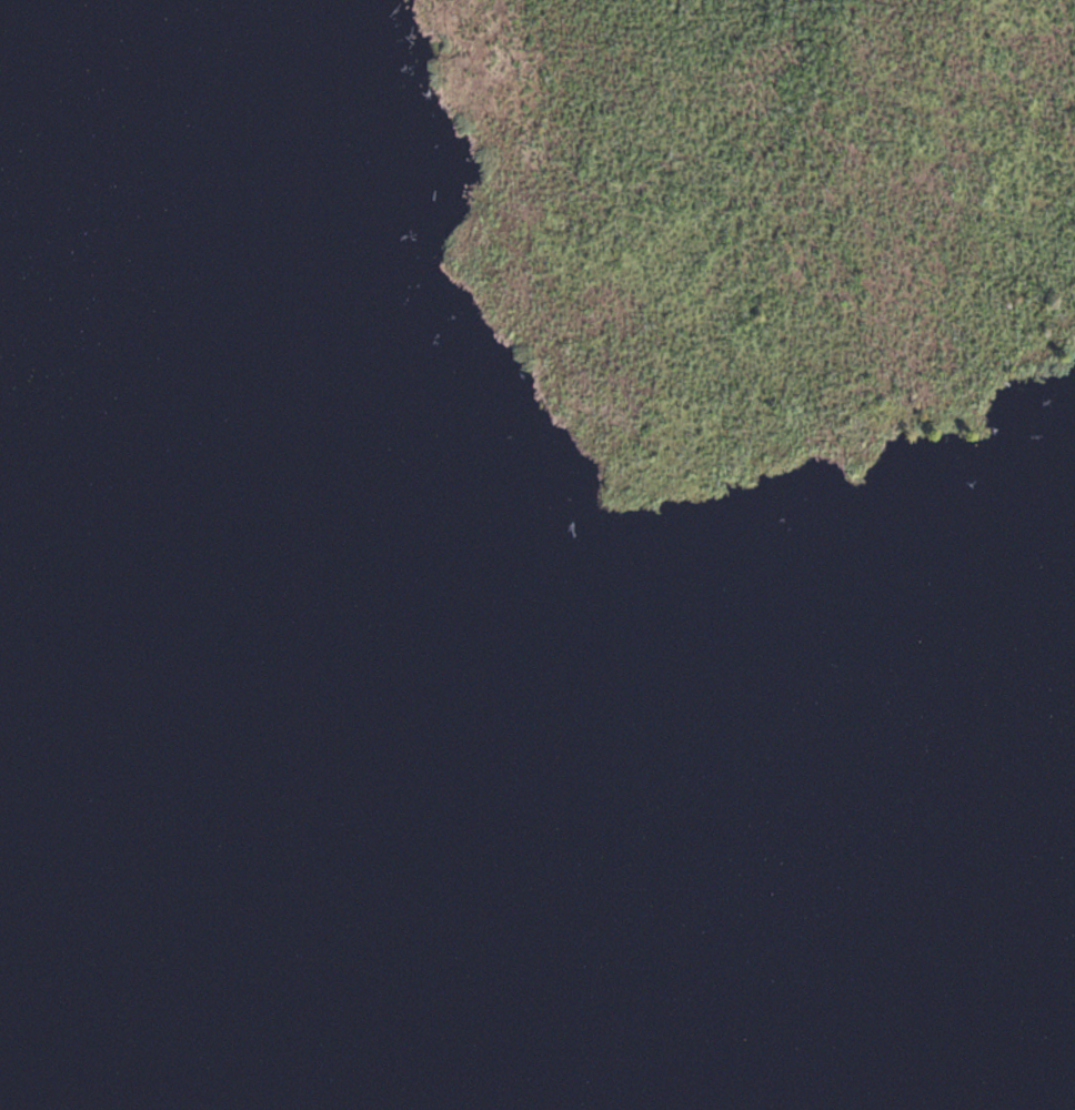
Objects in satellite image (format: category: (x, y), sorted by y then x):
river: (232, 865)
river: (1012, 1064)

